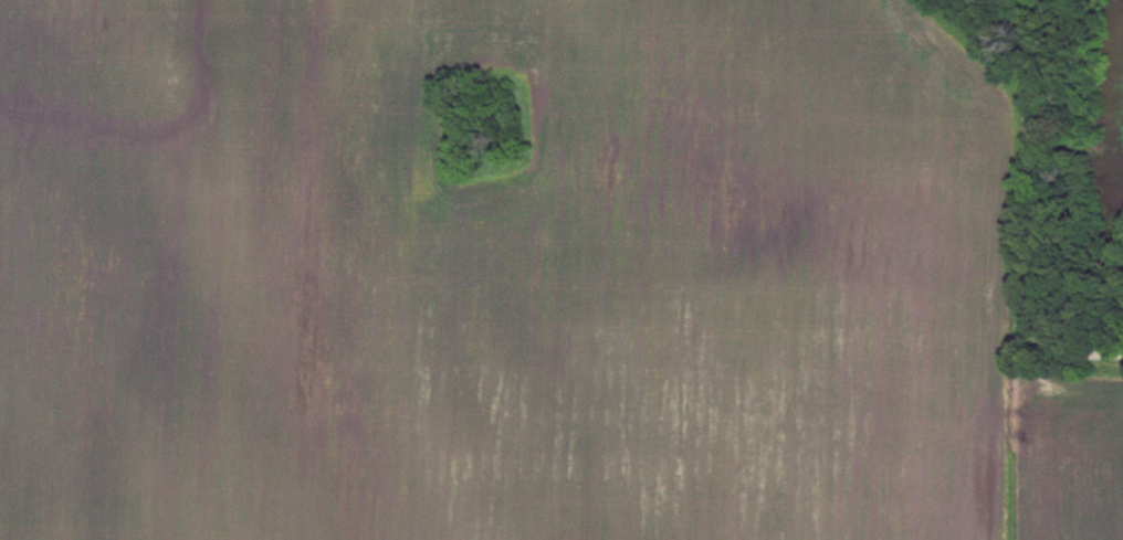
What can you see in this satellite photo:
road: (987, 219)

